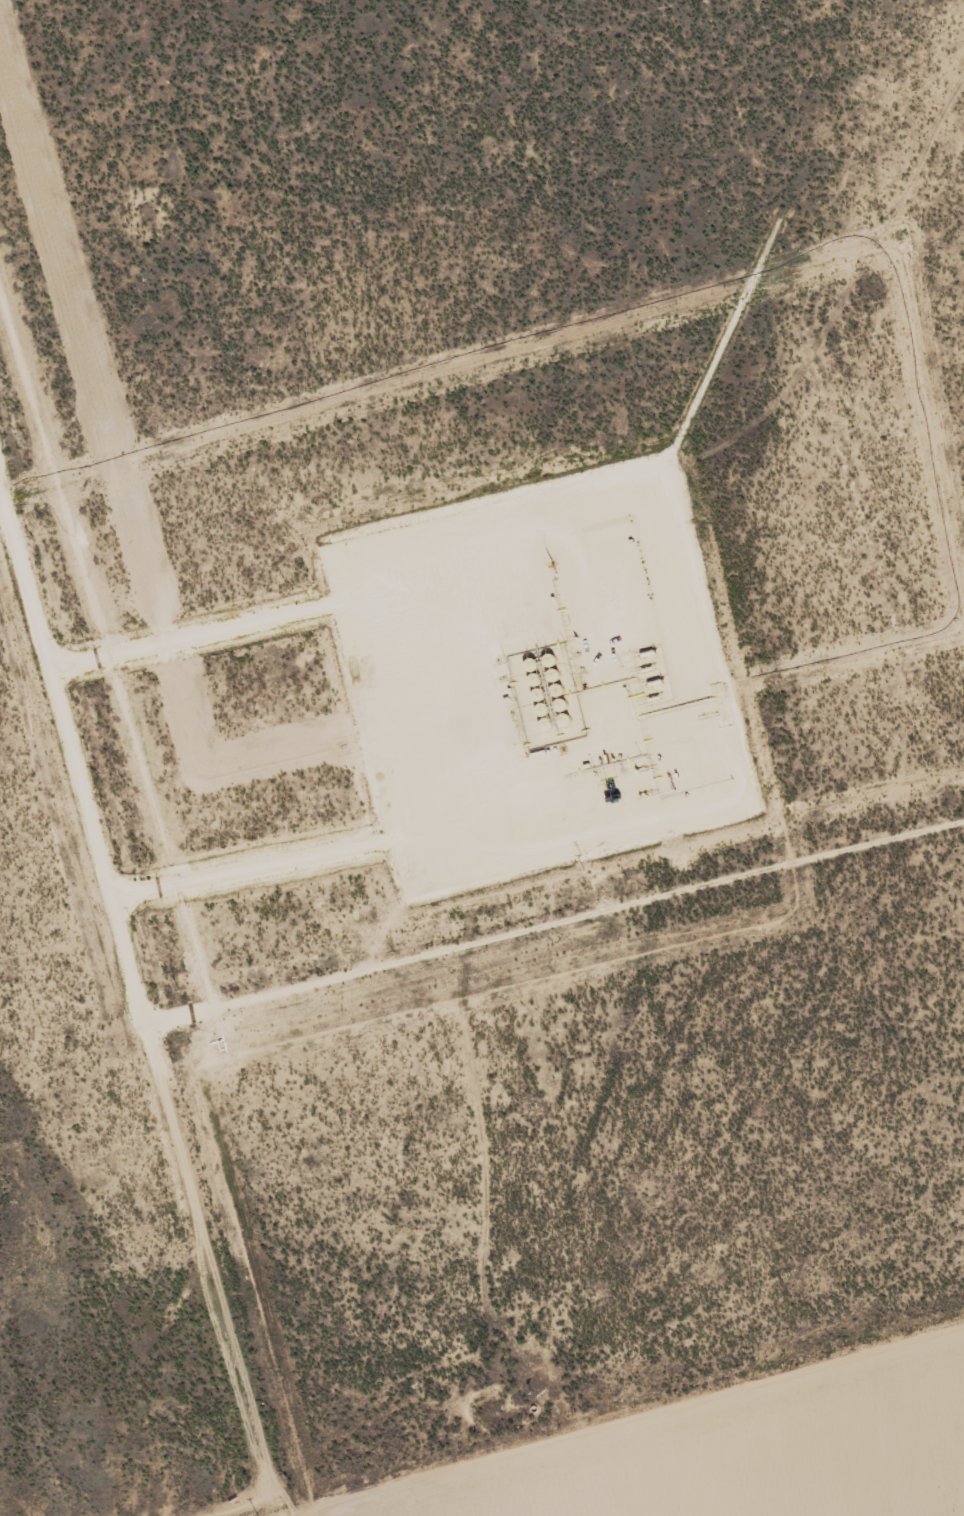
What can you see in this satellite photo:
road: (485, 747)
road: (138, 1035)
road: (872, 1460)
road: (293, 1497)

